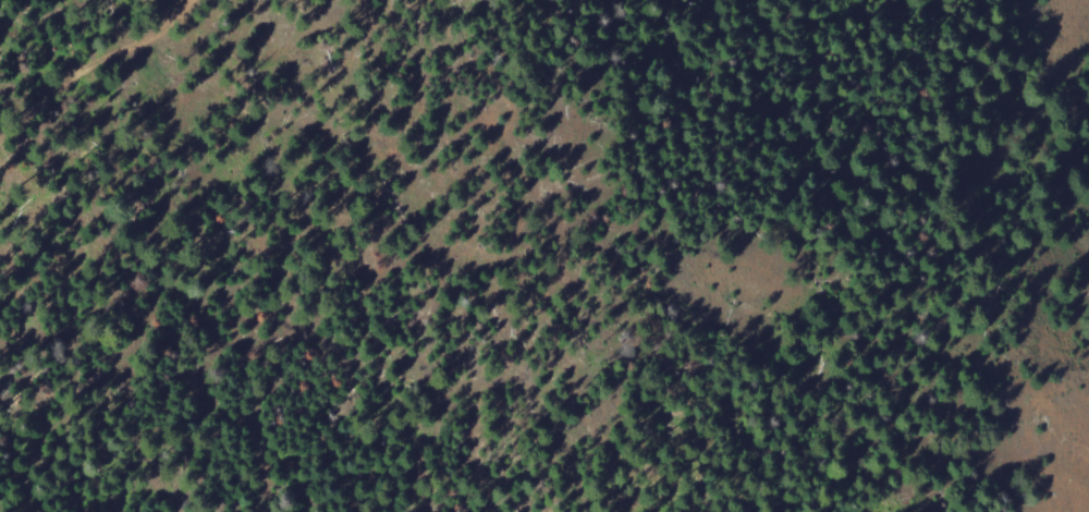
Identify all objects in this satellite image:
road: (1037, 114)

